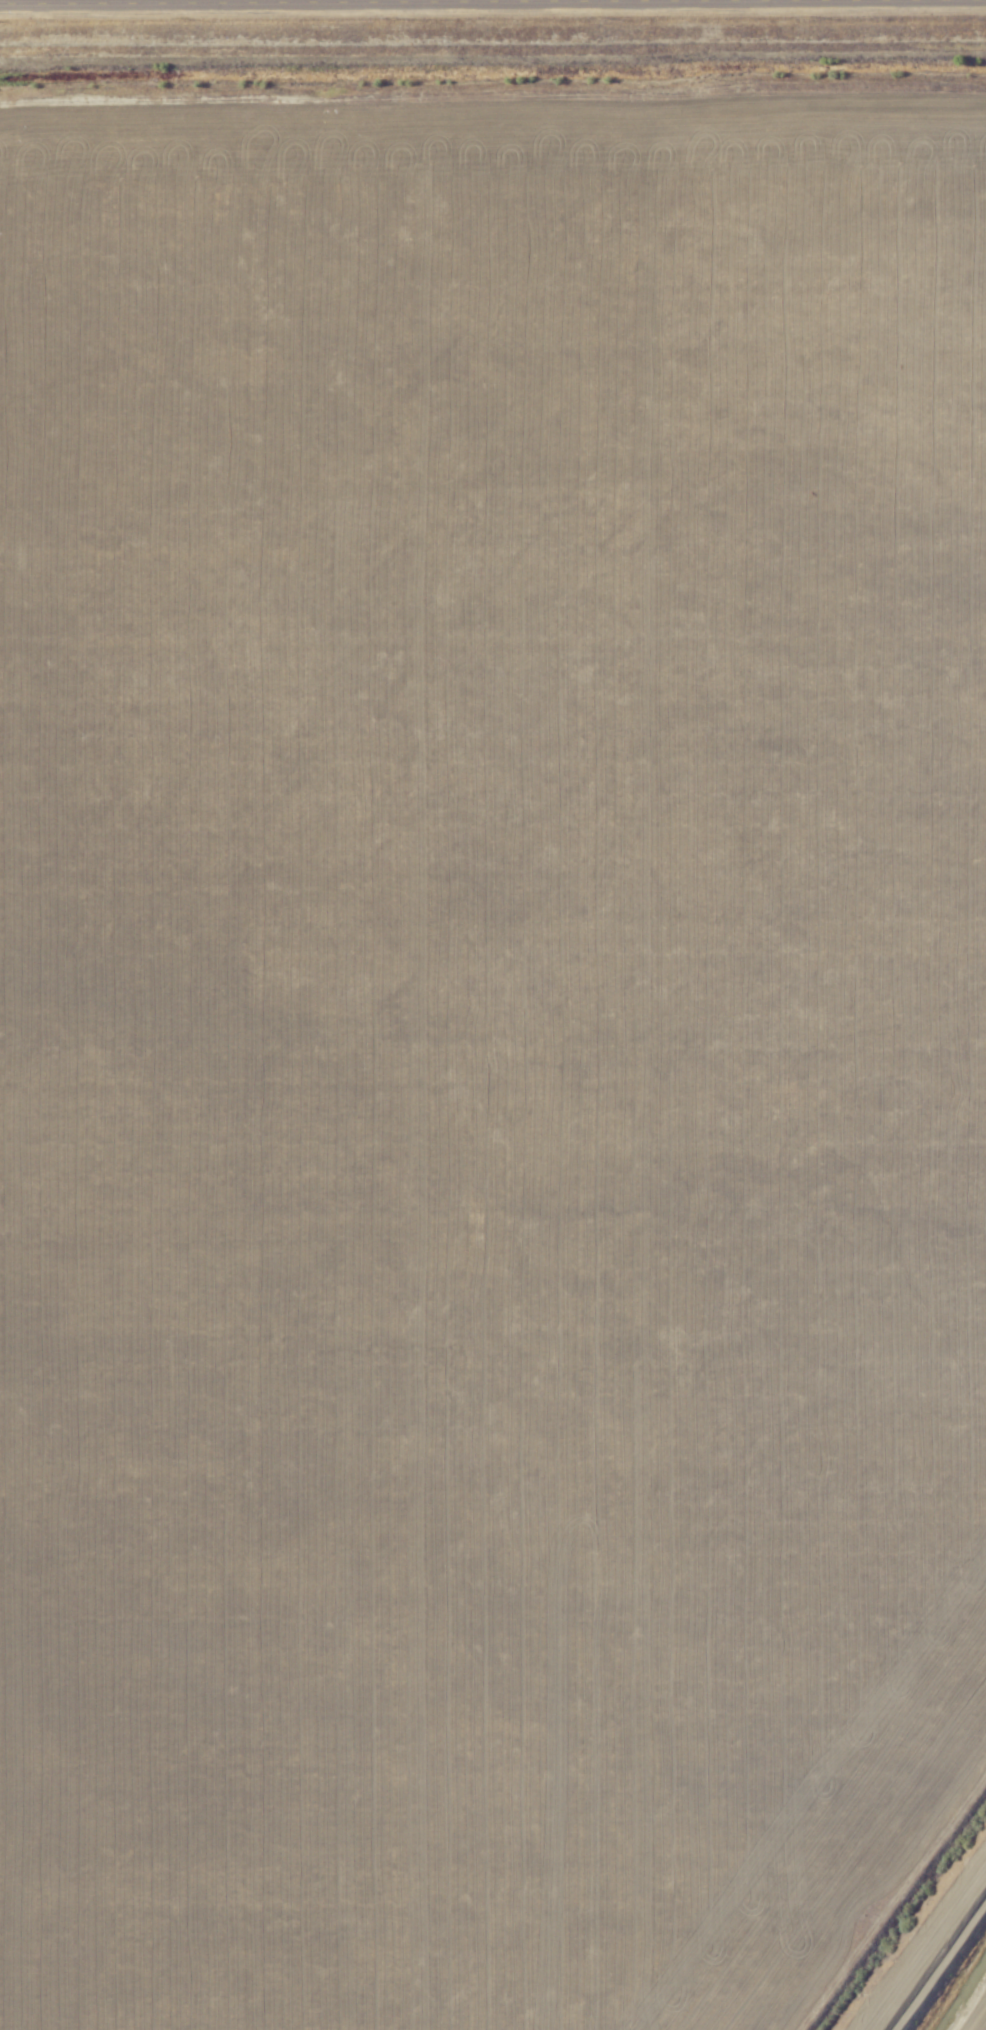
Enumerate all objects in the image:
road: (493, 4)

